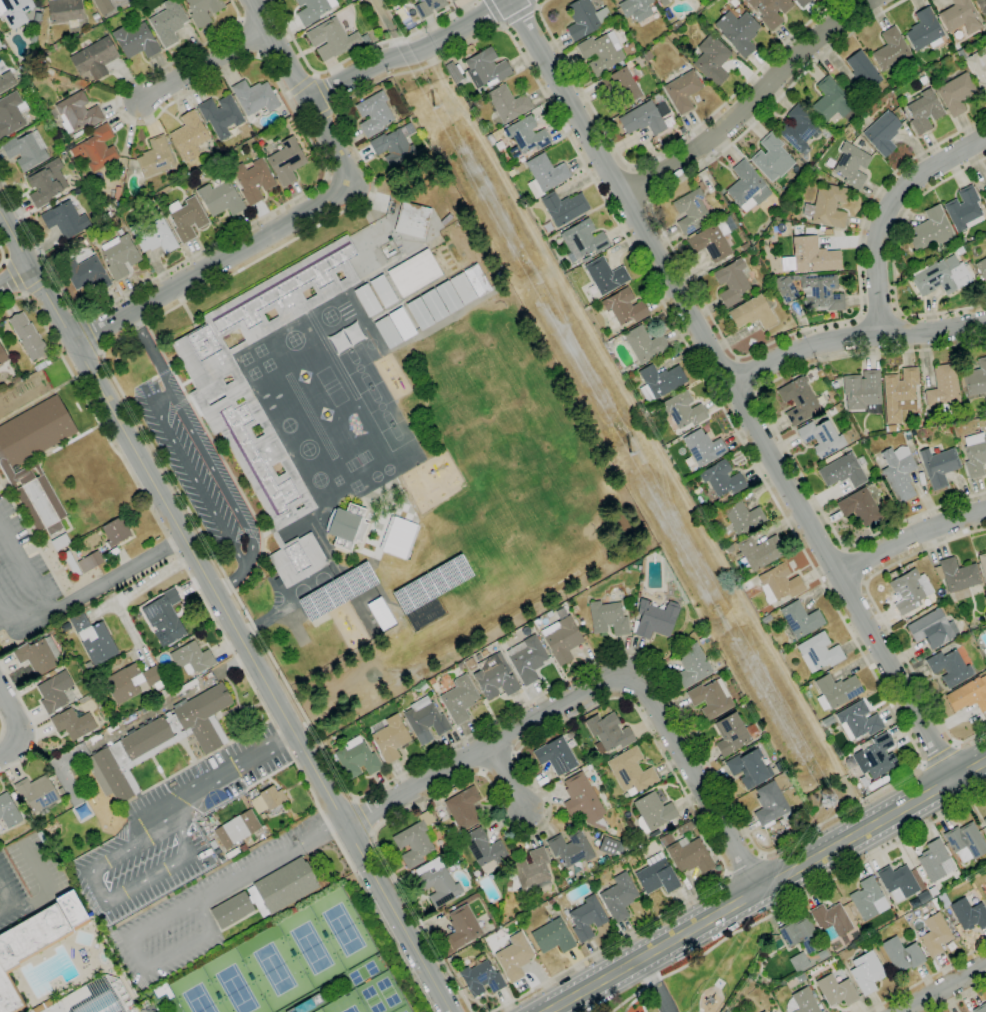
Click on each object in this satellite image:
building: (120, 0)
building: (451, 0)
building: (664, 2)
building: (733, 2)
building: (802, 2)
road: (533, 3)
building: (103, 6)
building: (981, 6)
building: (428, 7)
building: (636, 9)
building: (203, 10)
building: (313, 10)
building: (769, 10)
building: (15, 11)
building: (64, 12)
road: (494, 13)
road: (517, 15)
building: (95, 16)
building: (959, 16)
building: (585, 19)
building: (168, 23)
building: (675, 25)
building: (924, 30)
building: (738, 31)
building: (333, 39)
building: (136, 41)
road: (276, 48)
building: (890, 49)
road: (410, 52)
building: (601, 52)
road: (355, 54)
building: (95, 58)
building: (712, 60)
building: (908, 62)
road: (200, 64)
building: (486, 68)
building: (978, 69)
building: (454, 72)
building: (864, 72)
building: (923, 80)
building: (6, 82)
building: (625, 83)
road: (300, 85)
building: (682, 91)
road: (324, 92)
building: (956, 93)
building: (255, 97)
building: (830, 100)
road: (748, 102)
building: (507, 103)
power tower: (432, 107)
building: (924, 111)
building: (74, 112)
building: (375, 113)
building: (11, 114)
building: (221, 116)
building: (647, 116)
road: (318, 118)
building: (799, 130)
building: (79, 133)
building: (882, 133)
building: (189, 136)
building: (525, 136)
building: (490, 138)
road: (328, 139)
building: (860, 144)
building: (394, 146)
building: (499, 146)
building: (658, 146)
building: (99, 148)
road: (659, 149)
building: (26, 151)
road: (318, 156)
building: (156, 158)
building: (772, 158)
building: (286, 161)
building: (851, 165)
building: (223, 171)
building: (511, 173)
building: (544, 174)
building: (253, 180)
building: (46, 183)
road: (639, 185)
building: (747, 187)
building: (220, 199)
road: (363, 206)
building: (790, 206)
building: (564, 207)
building: (828, 207)
building: (692, 209)
road: (885, 209)
building: (964, 209)
road: (905, 213)
building: (785, 216)
building: (187, 218)
building: (412, 219)
building: (65, 220)
building: (116, 223)
building: (931, 230)
building: (120, 232)
building: (155, 237)
building: (583, 239)
building: (714, 239)
building: (963, 240)
building: (744, 246)
building: (387, 247)
building: (985, 249)
building: (391, 253)
road: (3, 256)
building: (119, 256)
building: (813, 256)
road: (211, 264)
building: (981, 268)
building: (414, 273)
building: (86, 275)
building: (605, 275)
road: (14, 276)
road: (15, 276)
building: (941, 276)
building: (731, 282)
road: (40, 283)
building: (469, 283)
building: (785, 289)
building: (383, 291)
building: (821, 293)
building: (448, 296)
building: (367, 300)
building: (434, 305)
building: (624, 307)
road: (705, 309)
road: (942, 311)
building: (419, 313)
building: (753, 313)
road: (878, 316)
road: (89, 332)
building: (28, 337)
road: (853, 337)
building: (644, 344)
building: (2, 356)
road: (747, 375)
building: (975, 379)
building: (207, 382)
building: (660, 382)
road: (732, 389)
building: (943, 389)
building: (863, 392)
building: (898, 394)
building: (822, 397)
building: (798, 400)
building: (680, 411)
building: (925, 421)
building: (889, 428)
road: (776, 433)
building: (875, 434)
building: (821, 438)
building: (703, 447)
building: (975, 454)
power tower: (629, 455)
road: (205, 456)
parking lot: (186, 461)
building: (10, 463)
building: (939, 466)
building: (844, 470)
building: (898, 473)
road: (193, 476)
building: (722, 478)
building: (868, 484)
building: (859, 507)
building: (742, 516)
building: (347, 526)
building: (116, 532)
road: (908, 535)
building: (399, 537)
building: (279, 538)
building: (60, 542)
building: (102, 549)
building: (729, 549)
building: (759, 552)
building: (297, 560)
building: (90, 562)
road: (854, 564)
building: (983, 564)
parking lot: (20, 570)
road: (24, 570)
road: (116, 577)
building: (957, 577)
building: (778, 584)
building: (910, 591)
road: (129, 592)
building: (575, 609)
road: (100, 610)
road: (226, 611)
building: (985, 615)
building: (164, 618)
building: (608, 618)
building: (654, 619)
building: (766, 619)
road: (882, 620)
building: (798, 622)
building: (64, 627)
building: (933, 628)
road: (20, 629)
building: (52, 630)
building: (697, 633)
building: (703, 637)
building: (93, 639)
road: (224, 639)
building: (561, 639)
building: (984, 651)
building: (818, 653)
building: (38, 655)
building: (191, 658)
building: (527, 658)
building: (470, 664)
building: (692, 665)
building: (460, 666)
building: (949, 668)
building: (51, 673)
building: (468, 676)
building: (494, 677)
building: (431, 681)
building: (131, 682)
building: (423, 686)
building: (54, 691)
building: (836, 691)
building: (163, 692)
building: (969, 695)
building: (710, 698)
building: (459, 699)
building: (425, 720)
building: (828, 720)
building: (858, 721)
road: (33, 723)
building: (73, 724)
road: (1, 726)
road: (18, 726)
road: (549, 729)
building: (609, 732)
building: (763, 734)
building: (570, 735)
building: (731, 735)
building: (95, 738)
building: (390, 738)
building: (161, 739)
road: (486, 747)
road: (939, 753)
building: (878, 755)
building: (556, 756)
building: (356, 758)
building: (778, 767)
building: (749, 768)
road: (225, 770)
building: (631, 771)
road: (505, 778)
building: (863, 781)
road: (698, 782)
building: (60, 791)
building: (38, 792)
building: (663, 795)
building: (13, 796)
building: (267, 799)
building: (583, 801)
power tower: (824, 802)
building: (431, 804)
building: (772, 805)
building: (464, 808)
building: (8, 811)
building: (653, 812)
road: (361, 815)
building: (984, 821)
building: (686, 827)
building: (236, 829)
road: (748, 837)
building: (417, 839)
building: (665, 840)
building: (965, 842)
building: (608, 846)
building: (242, 848)
building: (484, 849)
building: (571, 849)
building: (232, 853)
building: (690, 855)
road: (269, 860)
building: (935, 861)
road: (742, 863)
building: (559, 867)
building: (533, 872)
building: (656, 875)
building: (436, 882)
building: (898, 882)
parking lot: (28, 883)
building: (509, 885)
road: (48, 887)
building: (282, 887)
road: (766, 887)
building: (619, 897)
building: (866, 899)
building: (943, 899)
building: (985, 899)
road: (9, 900)
road: (797, 900)
road: (106, 901)
building: (550, 901)
building: (232, 910)
building: (968, 914)
building: (586, 918)
building: (831, 920)
building: (462, 927)
park: (343, 929)
building: (801, 934)
building: (935, 935)
building: (553, 937)
building: (845, 939)
building: (35, 943)
park: (311, 948)
building: (901, 954)
building: (514, 957)
building: (799, 962)
road: (145, 968)
park: (274, 969)
park: (363, 972)
building: (866, 972)
road: (926, 978)
building: (480, 979)
road: (655, 985)
road: (944, 988)
park: (236, 989)
building: (836, 991)
park: (387, 992)
building: (91, 998)
road: (962, 998)
park: (198, 999)
park: (372, 999)
building: (801, 1002)
building: (307, 1004)
building: (980, 1008)
park: (351, 1009)
parking lot: (150, 1010)
park: (404, 1011)
building: (726, 1011)
building: (763, 1011)

